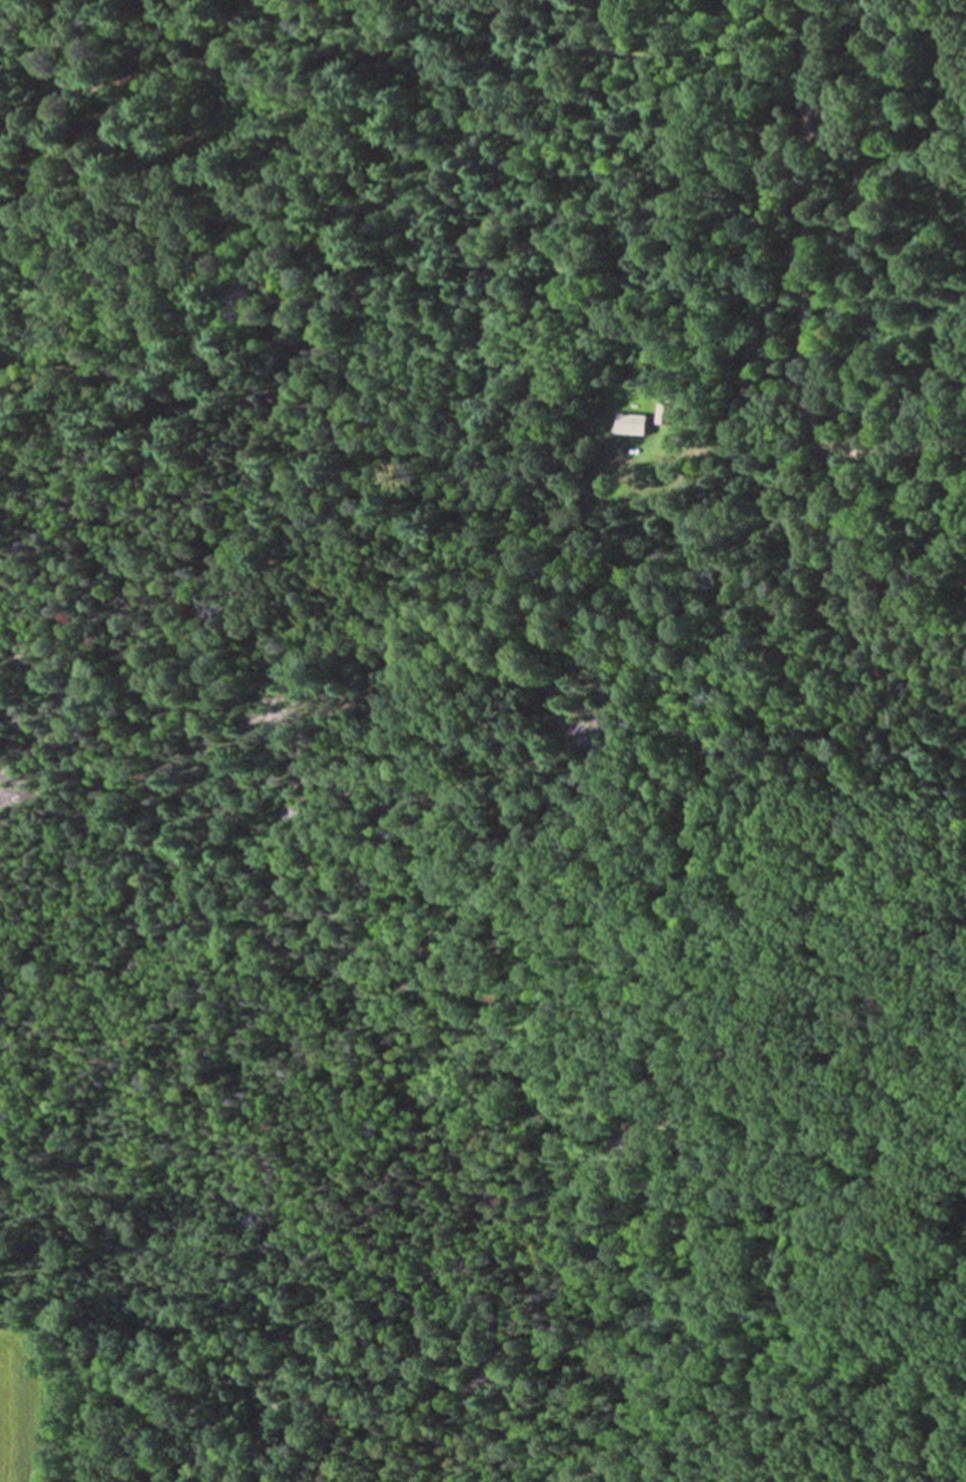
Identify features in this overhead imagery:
road: (879, 260)
road: (793, 303)
building: (662, 415)
building: (631, 425)

